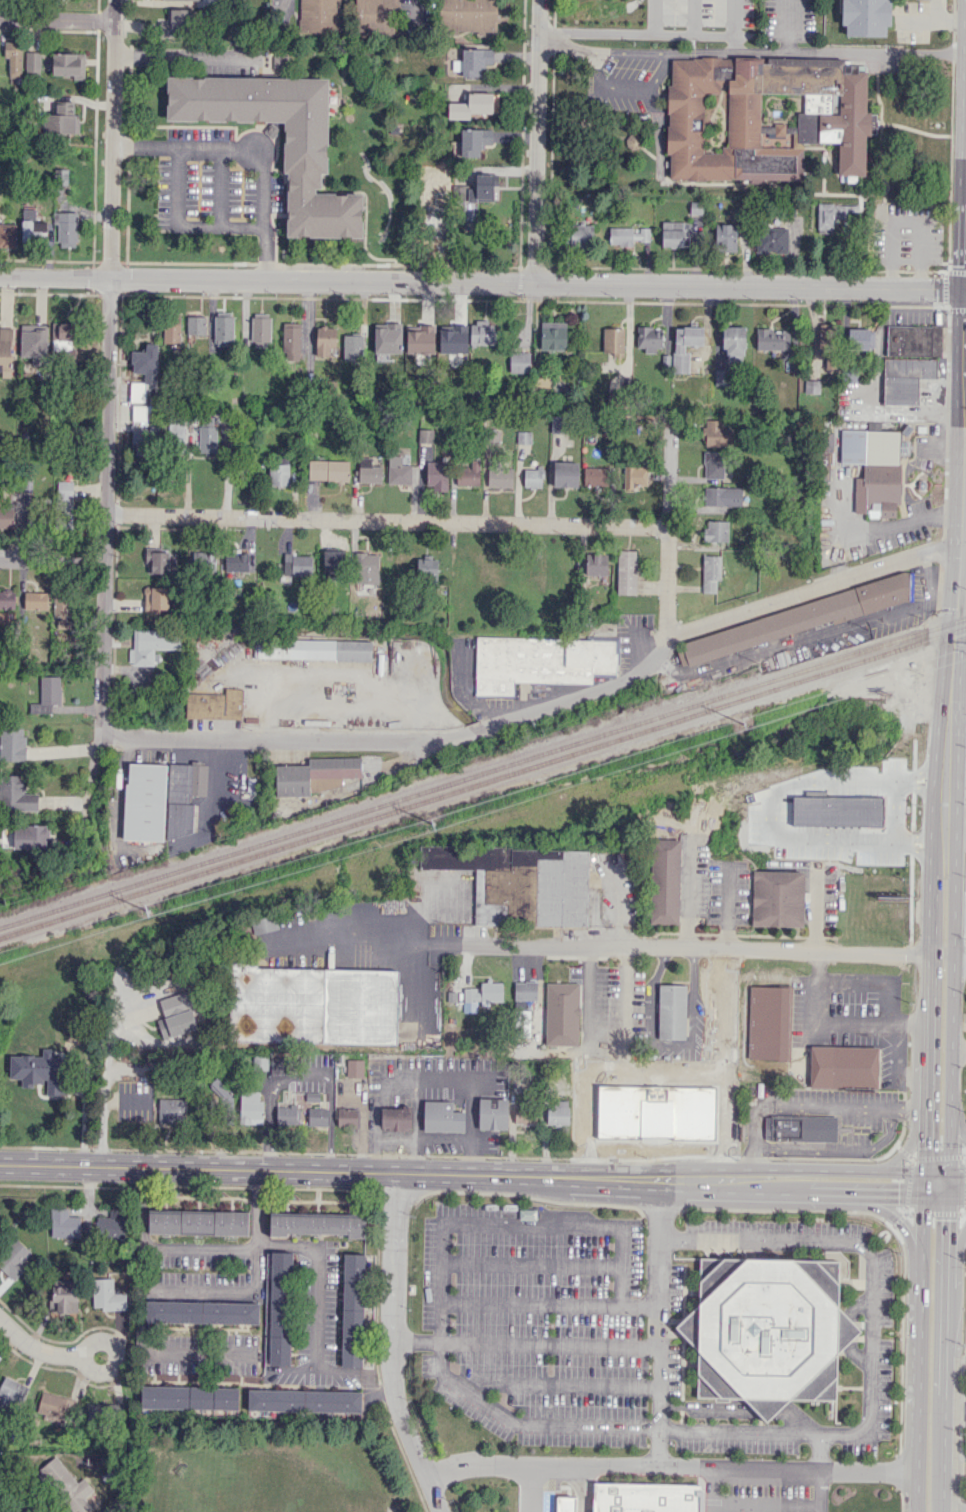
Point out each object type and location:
building: (229, 0)
parking lot: (701, 13)
road: (284, 16)
building: (320, 16)
building: (375, 16)
road: (654, 16)
road: (692, 16)
road: (732, 16)
building: (865, 16)
road: (943, 17)
road: (56, 18)
road: (416, 18)
parking lot: (787, 20)
building: (175, 23)
road: (787, 27)
road: (643, 32)
road: (733, 43)
road: (563, 44)
road: (629, 52)
road: (817, 53)
road: (186, 54)
building: (13, 60)
building: (473, 61)
building: (32, 62)
building: (68, 64)
parking lot: (628, 76)
road: (628, 87)
building: (474, 105)
building: (63, 119)
building: (713, 119)
building: (473, 141)
road: (535, 141)
building: (305, 146)
road: (249, 149)
building: (61, 176)
building: (433, 191)
building: (477, 195)
building: (832, 215)
road: (906, 223)
road: (181, 227)
building: (66, 228)
building: (33, 230)
building: (675, 233)
parking lot: (907, 234)
building: (7, 235)
building: (581, 235)
building: (627, 235)
building: (725, 237)
building: (771, 240)
road: (482, 282)
road: (965, 289)
traffic signals: (965, 289)
building: (195, 325)
building: (171, 329)
building: (223, 330)
building: (261, 330)
building: (453, 331)
building: (482, 332)
building: (62, 335)
building: (553, 335)
building: (649, 338)
building: (860, 338)
building: (291, 339)
building: (325, 339)
building: (420, 339)
building: (772, 339)
building: (388, 340)
building: (914, 340)
building: (613, 341)
building: (33, 342)
building: (733, 342)
building: (827, 342)
building: (685, 345)
building: (353, 347)
building: (5, 351)
building: (519, 361)
building: (145, 362)
building: (722, 377)
building: (905, 378)
building: (812, 386)
building: (137, 391)
building: (139, 412)
building: (558, 424)
road: (109, 429)
building: (176, 432)
building: (718, 433)
building: (425, 435)
building: (207, 437)
building: (523, 437)
building: (904, 448)
road: (964, 451)
building: (713, 464)
building: (874, 469)
building: (328, 470)
building: (368, 471)
building: (398, 471)
building: (278, 474)
building: (469, 474)
building: (565, 474)
building: (436, 476)
building: (500, 476)
building: (594, 476)
building: (634, 476)
building: (532, 477)
road: (964, 479)
building: (722, 496)
building: (64, 504)
building: (6, 517)
road: (389, 520)
building: (716, 531)
road: (870, 531)
road: (668, 537)
road: (959, 540)
building: (157, 560)
building: (205, 560)
building: (333, 562)
road: (53, 563)
building: (235, 563)
building: (297, 564)
building: (596, 564)
building: (368, 565)
building: (426, 566)
building: (626, 572)
building: (710, 572)
road: (961, 582)
building: (7, 599)
building: (156, 599)
building: (35, 600)
building: (62, 604)
building: (793, 620)
building: (62, 622)
building: (152, 643)
building: (313, 650)
building: (540, 661)
building: (47, 694)
road: (545, 702)
building: (214, 704)
road: (956, 732)
building: (12, 743)
railway: (483, 772)
building: (317, 775)
railway: (483, 782)
building: (16, 794)
building: (161, 799)
road: (893, 809)
building: (857, 821)
road: (954, 825)
building: (30, 837)
building: (664, 880)
building: (520, 882)
road: (687, 893)
building: (777, 898)
road: (927, 899)
road: (728, 906)
road: (959, 916)
building: (264, 924)
road: (366, 927)
road: (681, 948)
road: (940, 953)
road: (959, 954)
building: (527, 989)
building: (486, 993)
building: (717, 993)
building: (589, 1001)
road: (926, 1002)
building: (275, 1003)
building: (359, 1006)
road: (952, 1009)
building: (672, 1010)
building: (180, 1012)
building: (562, 1013)
building: (83, 1015)
building: (769, 1021)
building: (523, 1022)
road: (833, 1025)
road: (673, 1043)
road: (958, 1049)
building: (260, 1062)
road: (628, 1062)
road: (730, 1062)
building: (278, 1065)
building: (844, 1066)
road: (896, 1066)
building: (355, 1067)
building: (46, 1069)
road: (304, 1077)
road: (924, 1078)
parking lot: (136, 1098)
building: (224, 1102)
road: (808, 1105)
building: (252, 1107)
building: (670, 1107)
building: (173, 1109)
building: (619, 1109)
building: (561, 1113)
building: (288, 1114)
building: (497, 1114)
building: (528, 1114)
building: (320, 1115)
building: (348, 1116)
building: (591, 1116)
road: (957, 1116)
building: (399, 1117)
building: (443, 1117)
road: (102, 1118)
building: (710, 1119)
building: (797, 1128)
road: (909, 1144)
traffic signals: (924, 1148)
road: (924, 1151)
road: (840, 1170)
road: (379, 1171)
road: (936, 1172)
road: (957, 1172)
road: (773, 1183)
road: (818, 1194)
traffic signals: (896, 1196)
road: (899, 1196)
road: (957, 1197)
road: (138, 1207)
traffic signals: (948, 1219)
building: (197, 1222)
building: (64, 1223)
building: (317, 1223)
building: (111, 1224)
road: (902, 1229)
road: (921, 1244)
road: (197, 1247)
building: (14, 1259)
road: (529, 1262)
road: (954, 1262)
road: (873, 1275)
road: (317, 1279)
road: (947, 1284)
road: (219, 1289)
building: (106, 1295)
building: (64, 1298)
road: (140, 1302)
road: (529, 1304)
building: (279, 1307)
building: (353, 1307)
building: (201, 1312)
parking lot: (534, 1319)
road: (659, 1320)
building: (770, 1330)
road: (525, 1343)
road: (390, 1346)
road: (37, 1347)
road: (196, 1348)
road: (116, 1357)
road: (293, 1369)
road: (918, 1381)
building: (11, 1394)
building: (192, 1399)
building: (305, 1401)
building: (56, 1406)
building: (101, 1412)
road: (525, 1427)
road: (737, 1433)
road: (943, 1454)
road: (670, 1464)
building: (66, 1484)
road: (533, 1488)
road: (712, 1488)
road: (820, 1489)
road: (916, 1491)
parking lot: (765, 1494)
building: (646, 1497)
road: (766, 1504)

